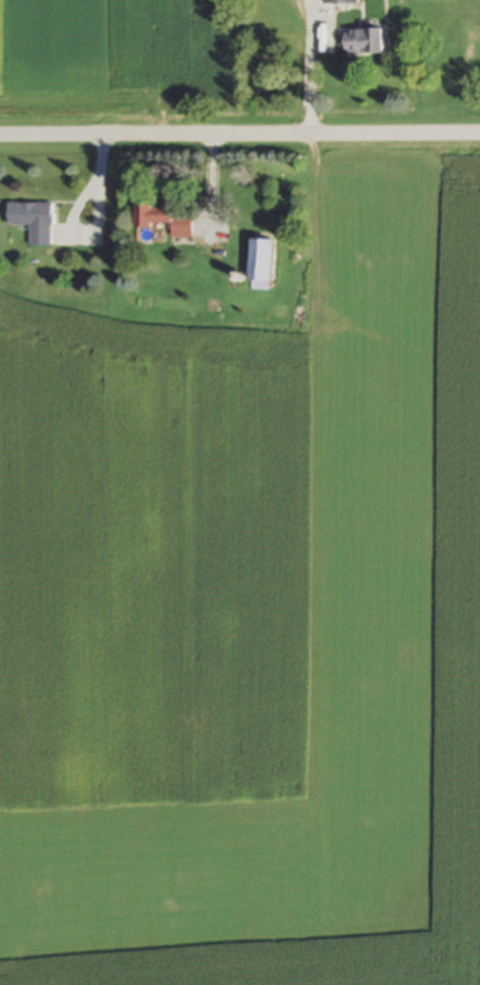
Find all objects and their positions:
building: (339, 1)
building: (363, 41)
road: (240, 133)
building: (165, 219)
building: (33, 221)
building: (261, 261)

